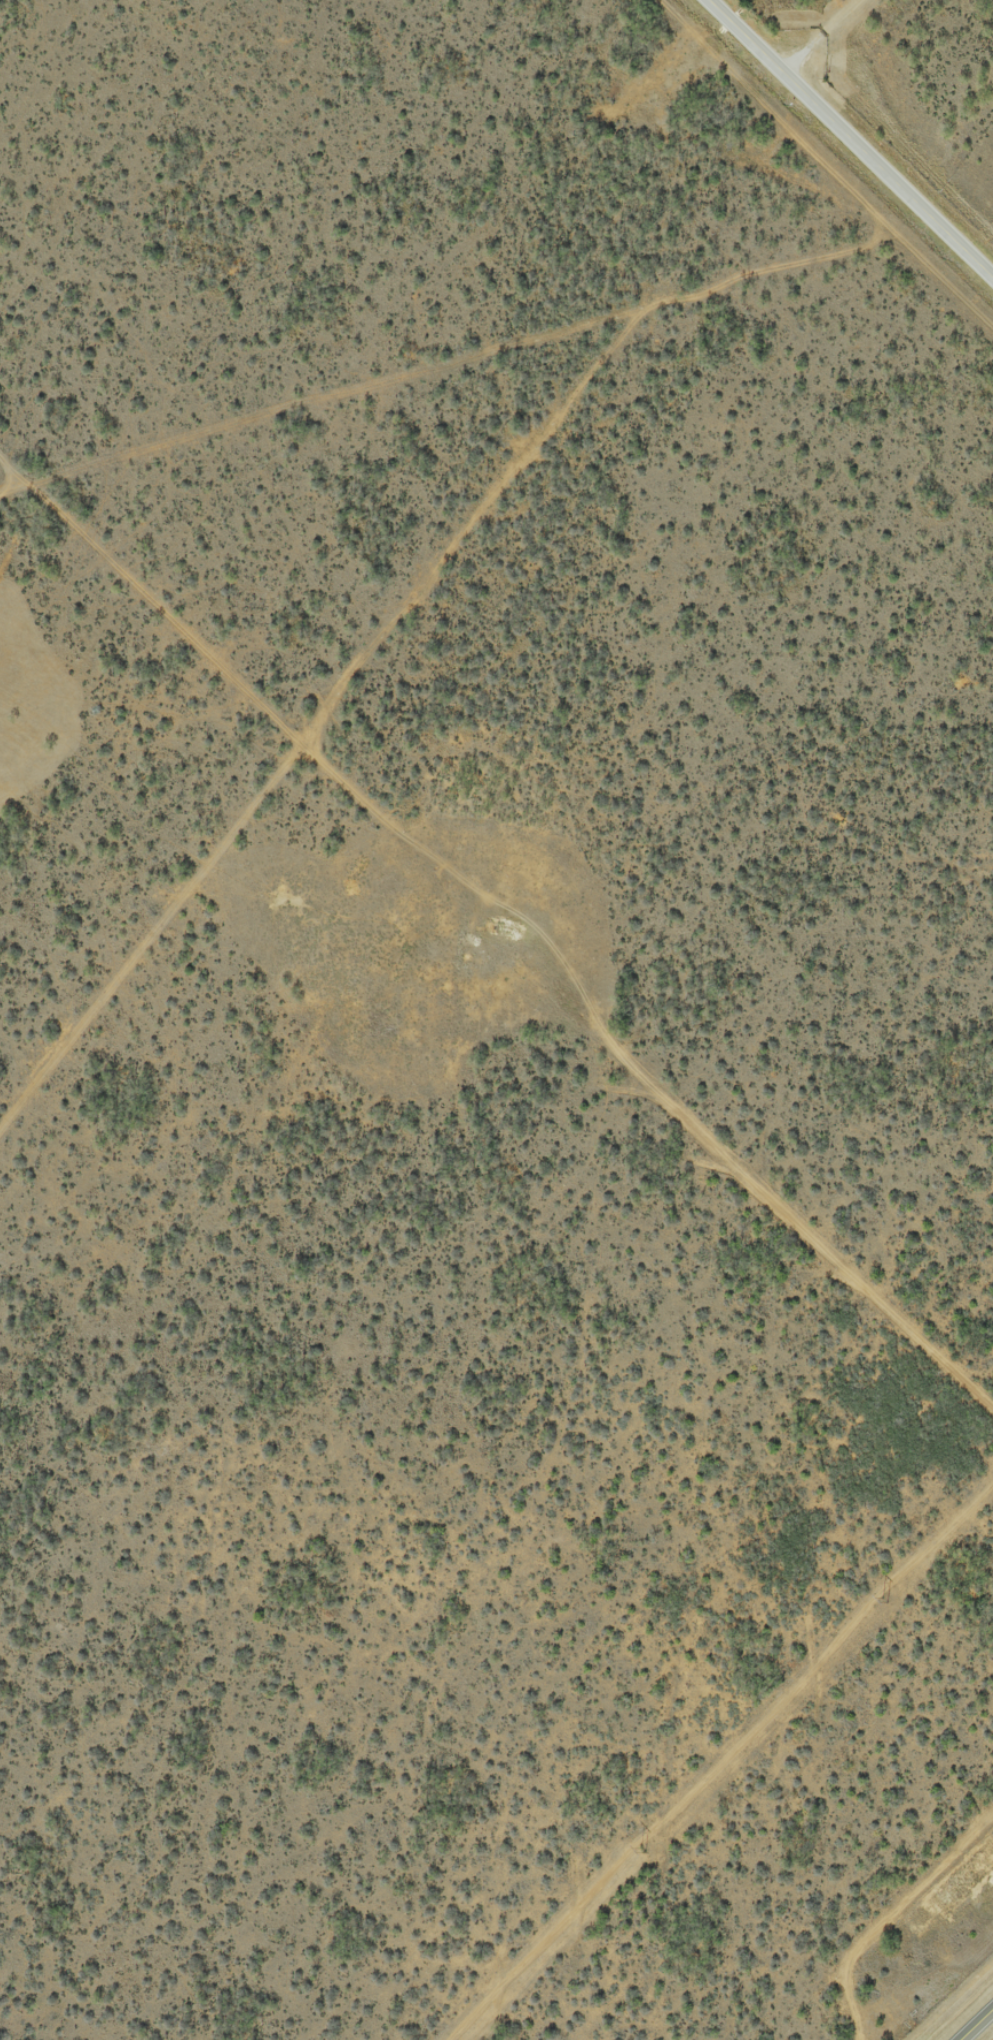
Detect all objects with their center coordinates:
road: (762, 52)
road: (869, 52)
road: (905, 191)
power tower: (884, 1601)
power tower: (642, 1851)
road: (977, 2024)

